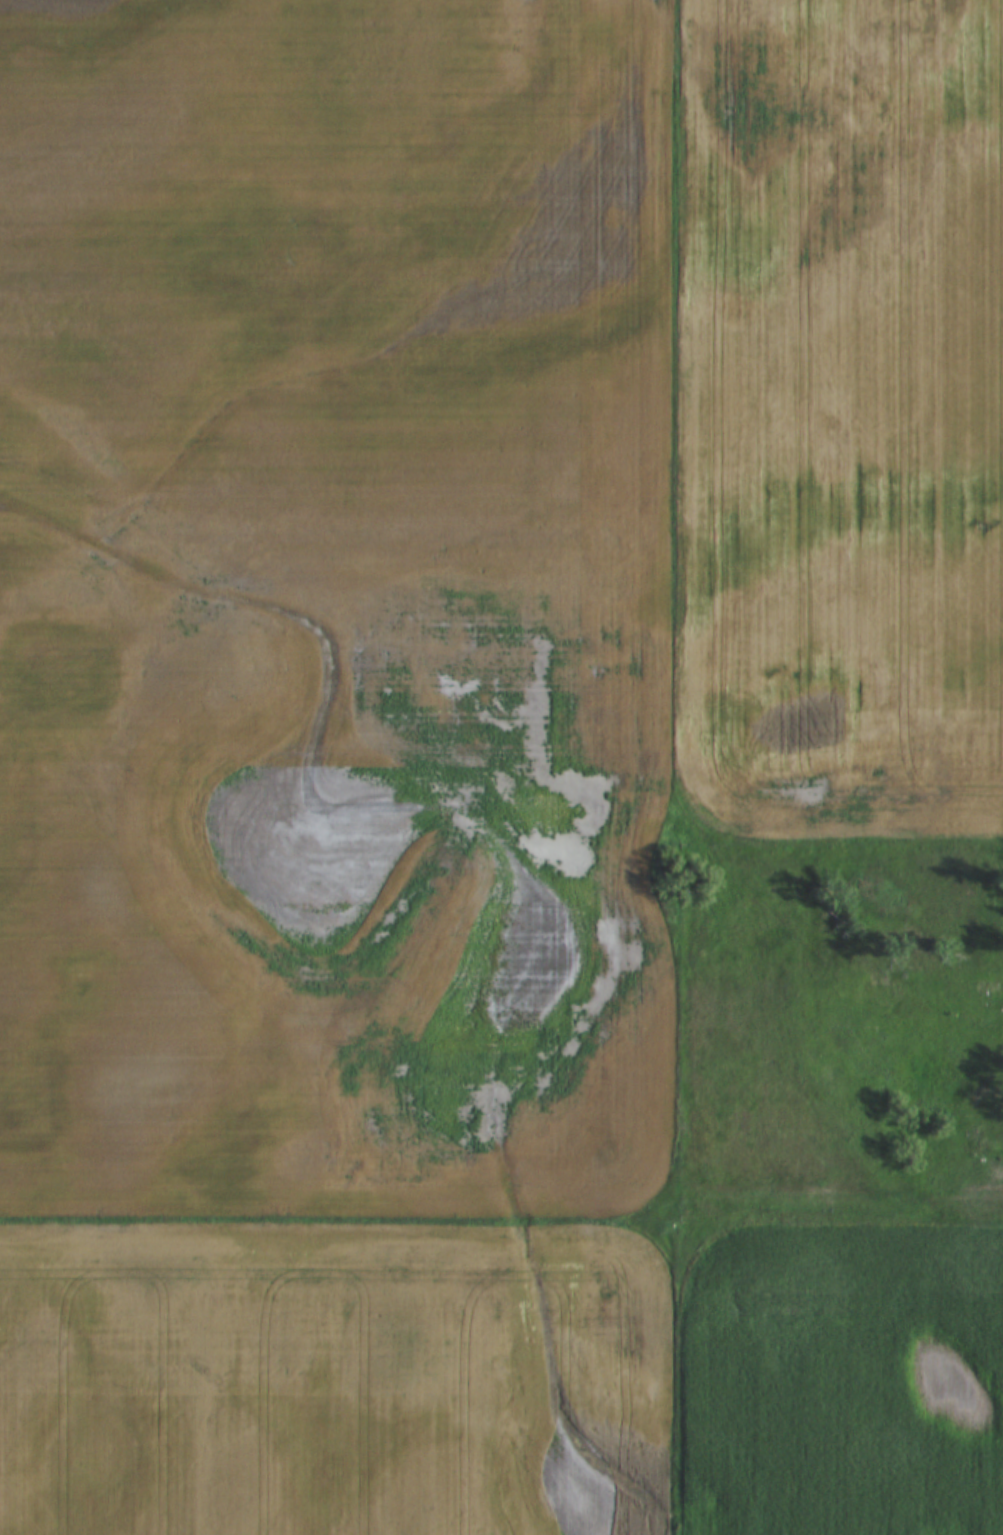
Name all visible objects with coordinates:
road: (670, 605)
building: (989, 987)

